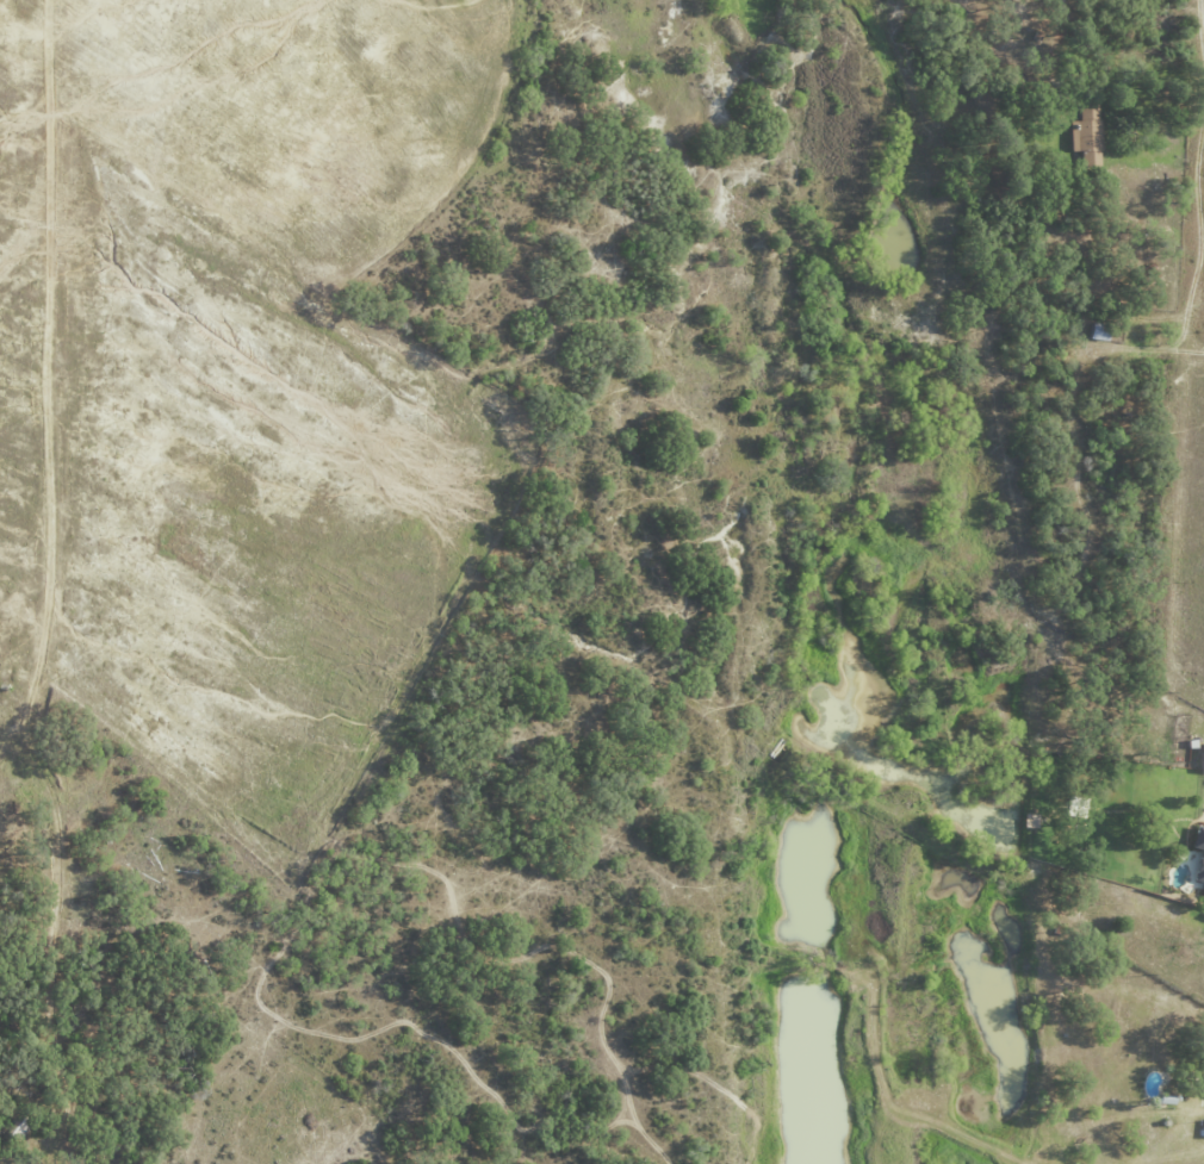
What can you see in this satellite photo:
road: (1066, 7)
building: (1202, 759)
building: (1202, 857)
building: (1203, 1129)

